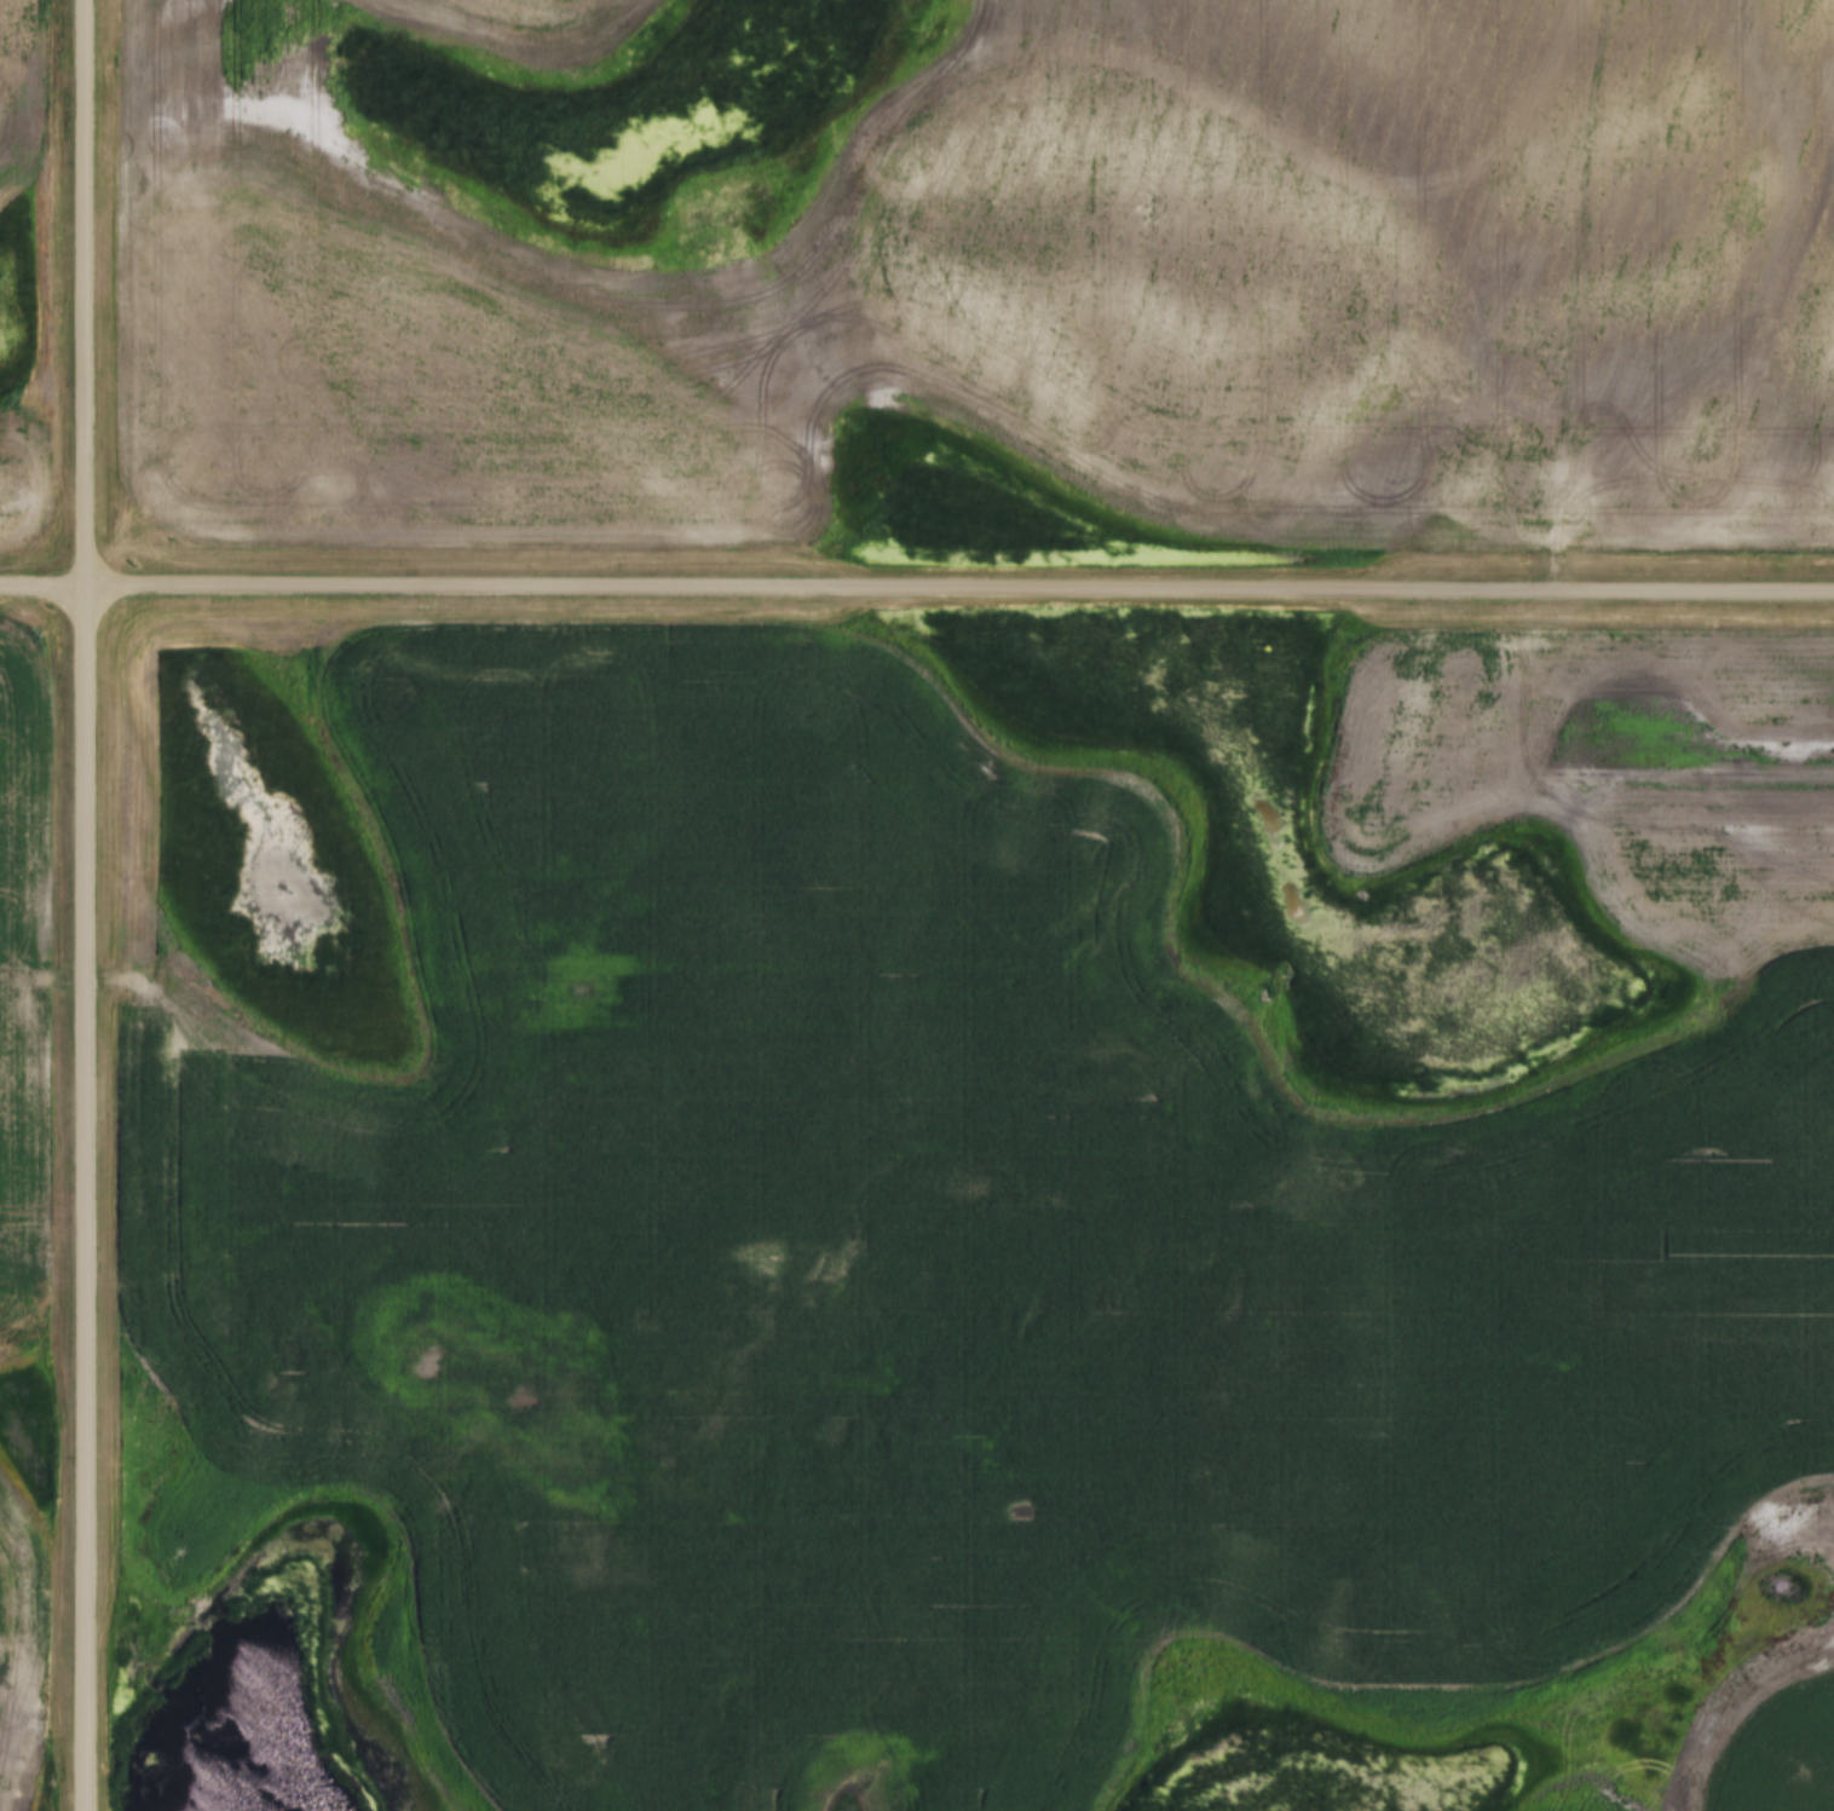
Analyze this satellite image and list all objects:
road: (917, 584)
road: (83, 905)

